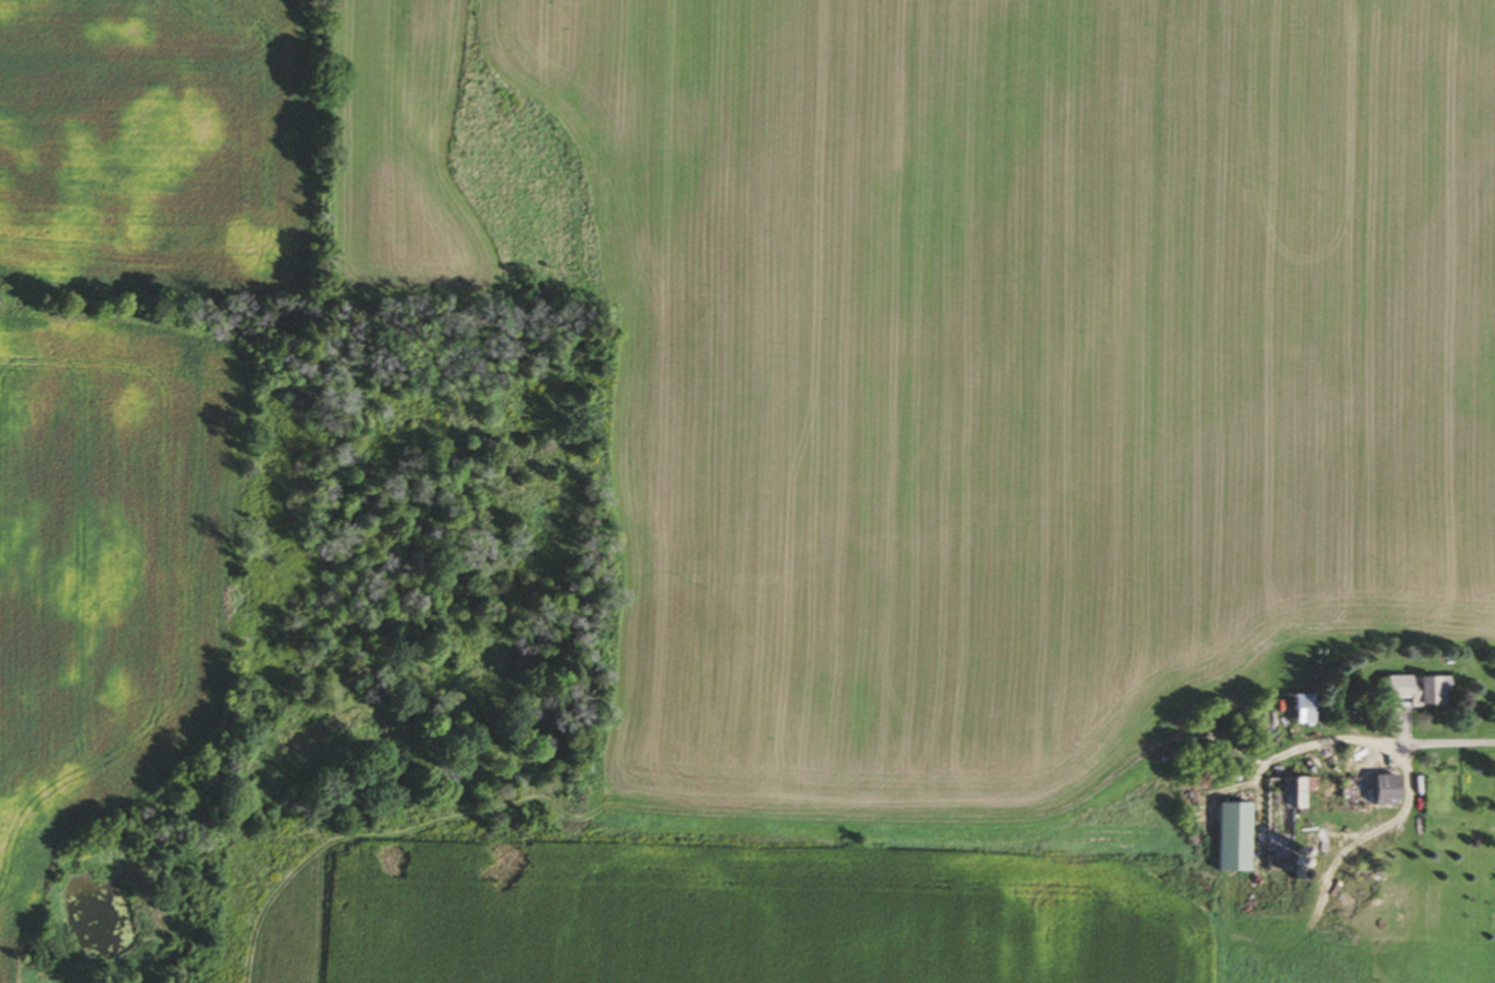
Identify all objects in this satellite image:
building: (1430, 692)
building: (1311, 709)
road: (1372, 740)
building: (1394, 790)
building: (1238, 837)

